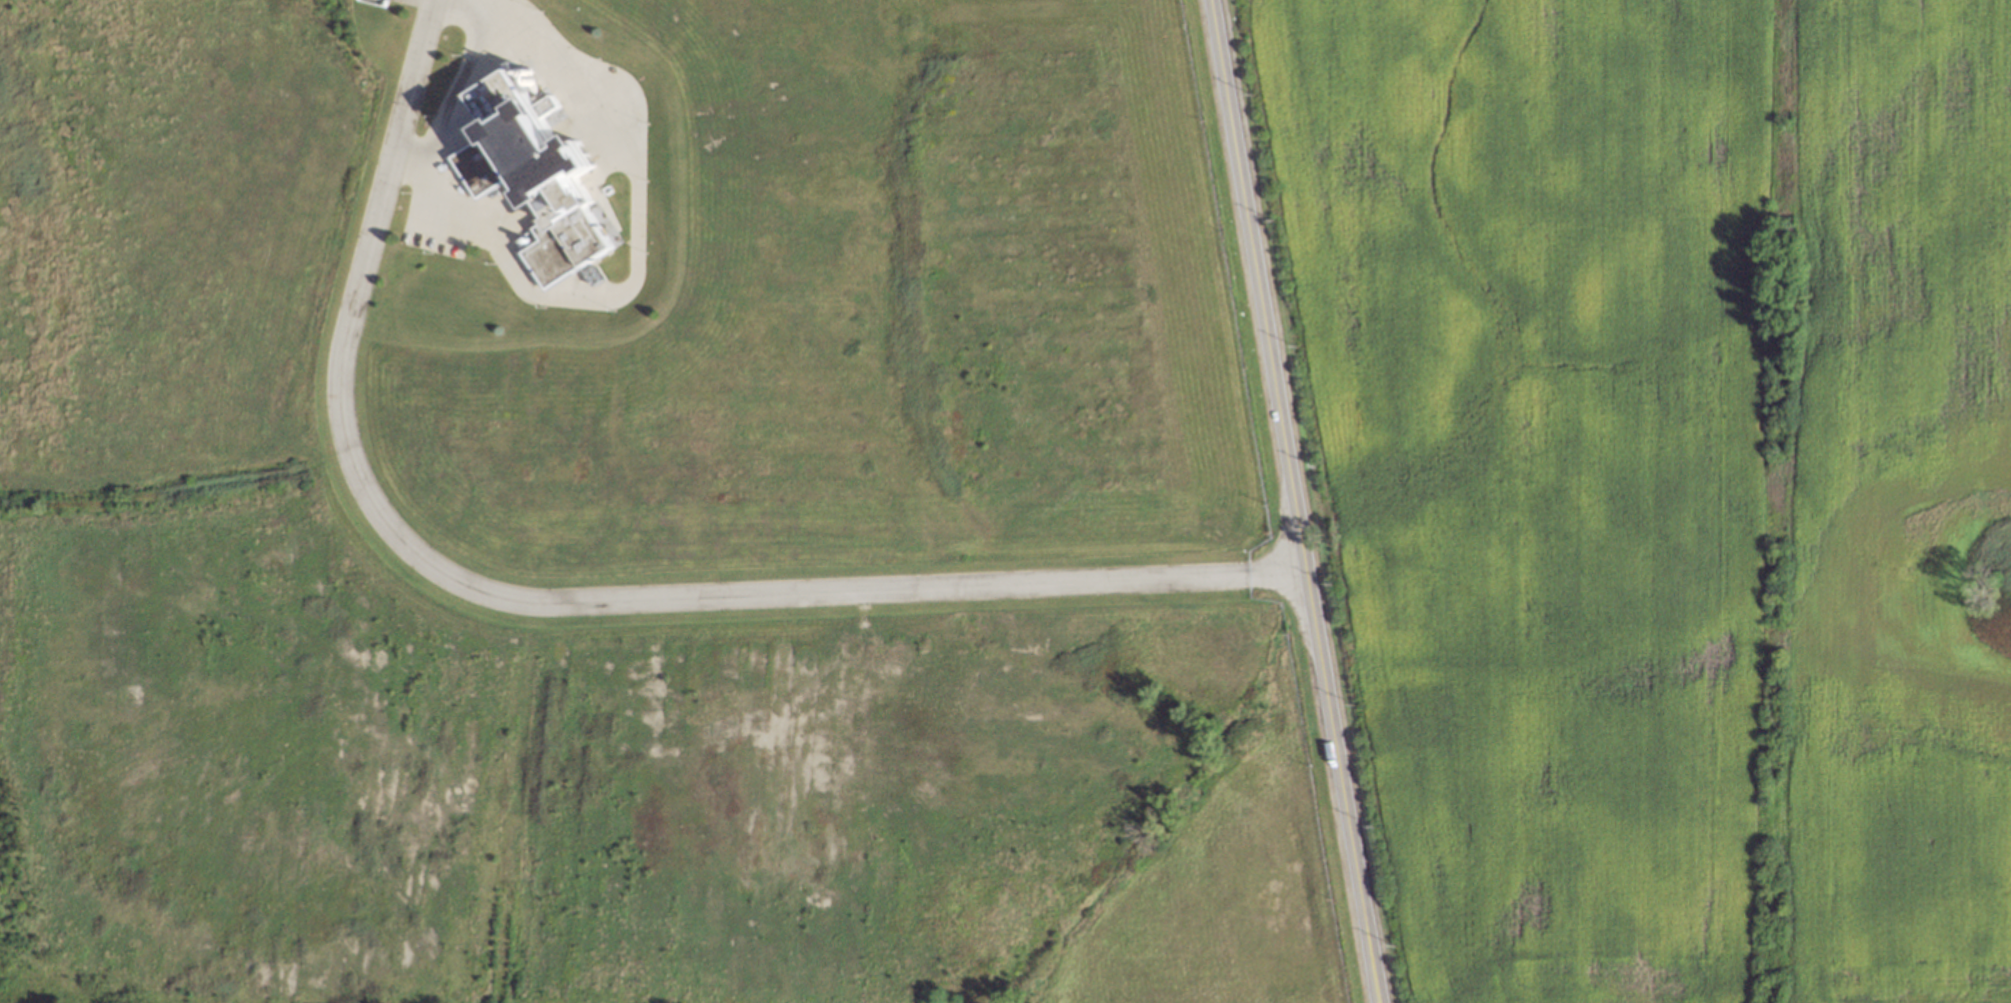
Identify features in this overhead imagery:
building: (381, 2)
building: (556, 162)
building: (488, 165)
building: (551, 252)
road: (1295, 501)
road: (559, 601)

